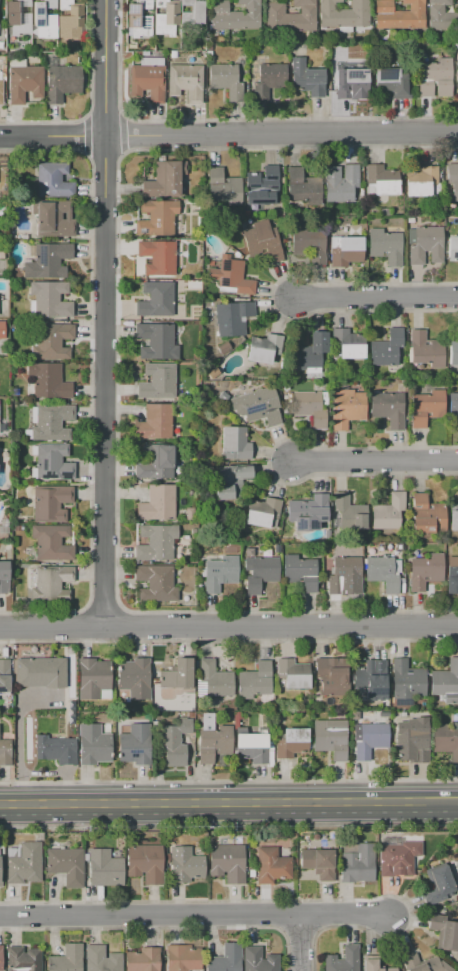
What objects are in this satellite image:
building: (343, 13)
building: (234, 15)
building: (398, 15)
building: (441, 16)
building: (17, 17)
building: (69, 17)
building: (290, 17)
building: (45, 18)
building: (166, 18)
building: (140, 20)
building: (191, 20)
building: (344, 29)
building: (455, 45)
building: (144, 53)
building: (173, 54)
building: (208, 54)
building: (17, 63)
building: (3, 69)
building: (456, 74)
building: (306, 78)
building: (435, 78)
building: (147, 79)
building: (269, 80)
building: (226, 81)
building: (62, 82)
building: (185, 82)
building: (350, 82)
building: (24, 83)
building: (391, 83)
building: (1, 92)
road: (89, 101)
road: (103, 115)
road: (231, 119)
road: (122, 133)
road: (228, 134)
road: (85, 135)
road: (105, 153)
building: (164, 179)
building: (53, 180)
building: (380, 180)
building: (452, 180)
building: (262, 181)
building: (420, 181)
building: (340, 183)
building: (223, 187)
building: (303, 187)
building: (297, 206)
building: (383, 212)
building: (247, 213)
building: (156, 218)
building: (53, 219)
building: (262, 240)
building: (308, 244)
building: (425, 244)
building: (384, 245)
building: (453, 247)
building: (347, 252)
building: (1, 253)
building: (157, 257)
building: (48, 261)
building: (231, 277)
road: (375, 296)
road: (270, 297)
building: (49, 299)
building: (155, 299)
road: (104, 313)
building: (232, 318)
building: (2, 330)
building: (155, 341)
building: (51, 342)
building: (346, 345)
building: (223, 348)
building: (263, 348)
building: (386, 348)
building: (425, 348)
building: (310, 351)
building: (453, 351)
building: (213, 372)
road: (89, 380)
road: (116, 380)
building: (46, 381)
building: (157, 381)
building: (284, 387)
building: (222, 397)
building: (453, 405)
building: (257, 406)
building: (426, 407)
building: (309, 408)
building: (346, 408)
building: (387, 408)
building: (50, 422)
building: (154, 422)
building: (234, 443)
road: (266, 460)
road: (373, 460)
building: (51, 462)
building: (155, 462)
building: (231, 482)
building: (51, 504)
building: (157, 504)
building: (263, 512)
building: (307, 512)
building: (388, 512)
building: (347, 513)
building: (190, 514)
building: (426, 515)
building: (453, 517)
building: (4, 526)
building: (17, 528)
building: (193, 532)
building: (185, 537)
building: (51, 542)
building: (156, 542)
building: (275, 546)
building: (379, 548)
building: (232, 550)
building: (248, 552)
building: (266, 553)
building: (452, 567)
building: (424, 571)
building: (299, 572)
building: (219, 573)
building: (260, 573)
building: (342, 573)
building: (381, 573)
building: (3, 577)
building: (400, 581)
building: (48, 583)
building: (155, 583)
road: (229, 625)
road: (228, 640)
building: (41, 672)
building: (177, 674)
building: (293, 674)
building: (332, 675)
building: (134, 677)
building: (4, 679)
building: (93, 679)
building: (371, 679)
building: (213, 680)
building: (254, 680)
building: (406, 682)
building: (446, 682)
building: (121, 716)
building: (147, 716)
building: (354, 716)
building: (71, 717)
building: (235, 718)
building: (153, 723)
road: (19, 735)
building: (329, 737)
building: (211, 739)
building: (370, 739)
building: (411, 739)
building: (445, 739)
building: (173, 741)
building: (290, 742)
building: (93, 744)
building: (135, 744)
building: (253, 748)
building: (55, 749)
building: (5, 752)
road: (59, 772)
road: (228, 780)
road: (456, 804)
road: (227, 805)
road: (228, 824)
building: (366, 836)
building: (257, 840)
building: (298, 843)
building: (398, 858)
building: (144, 862)
building: (227, 862)
building: (24, 863)
building: (318, 863)
building: (335, 863)
building: (357, 863)
building: (66, 865)
building: (185, 865)
building: (271, 865)
building: (104, 868)
building: (0, 871)
building: (251, 873)
building: (437, 885)
road: (287, 900)
road: (279, 915)
road: (318, 915)
road: (344, 915)
road: (149, 916)
road: (161, 926)
road: (299, 931)
building: (444, 931)
road: (299, 943)
building: (182, 958)
building: (23, 959)
building: (66, 959)
building: (101, 959)
building: (142, 959)
building: (226, 959)
building: (343, 959)
building: (258, 960)
building: (0, 962)
building: (374, 964)
building: (423, 964)

